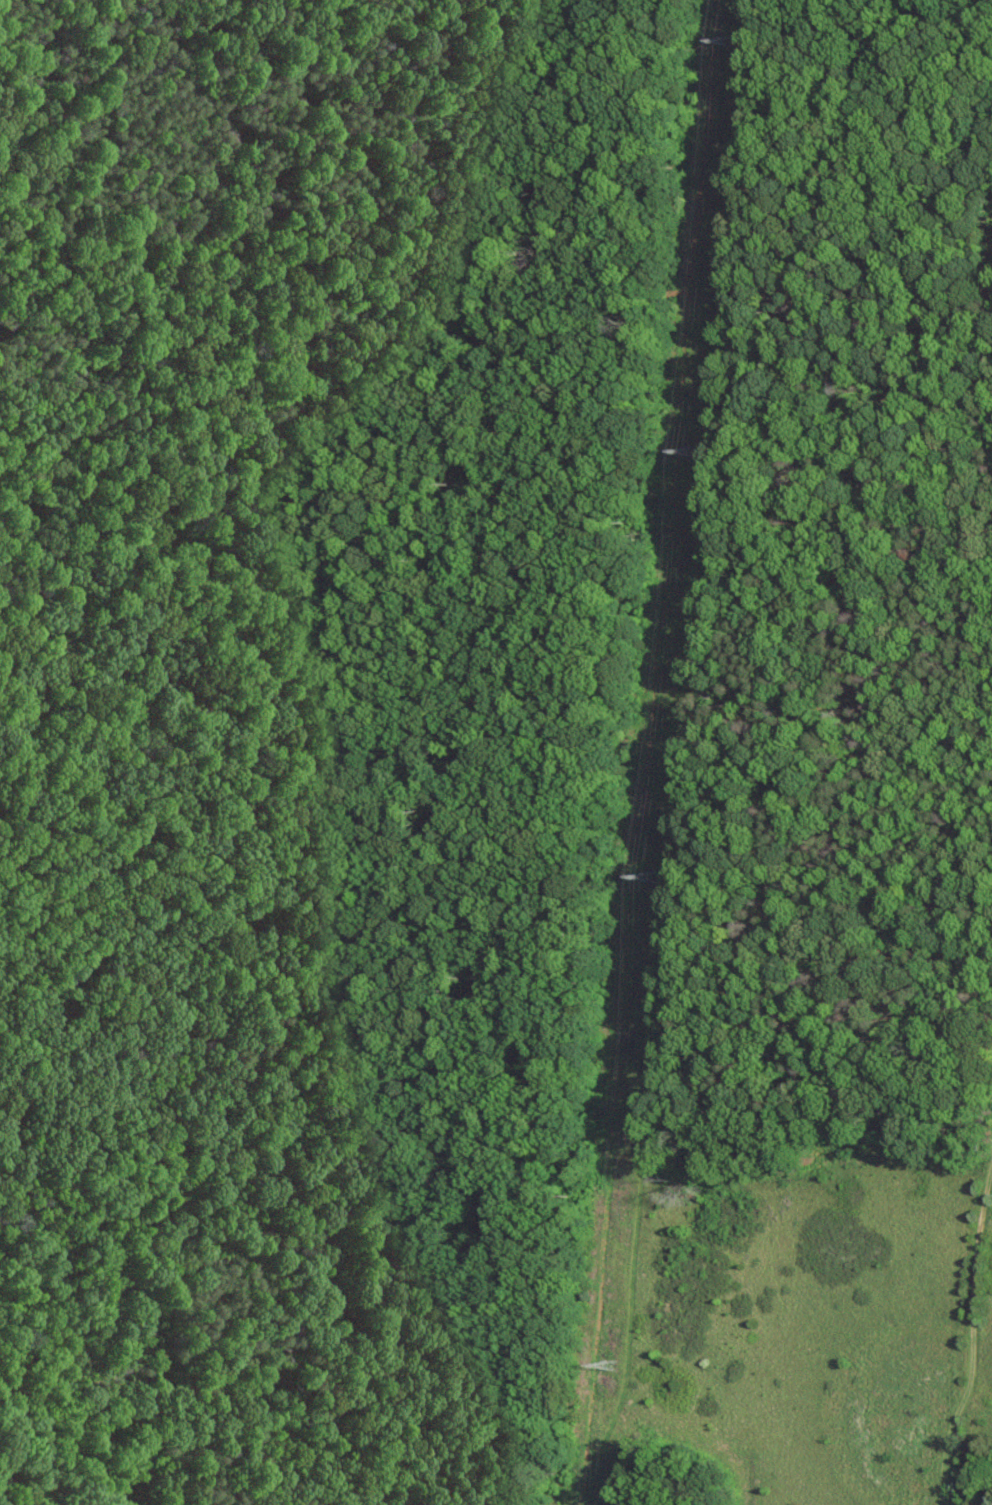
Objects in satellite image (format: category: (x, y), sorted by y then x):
power tower: (730, 39)
road: (91, 372)
power tower: (692, 450)
park: (496, 752)
power tower: (653, 875)
road: (377, 1227)
road: (971, 1335)
power tower: (609, 1365)

